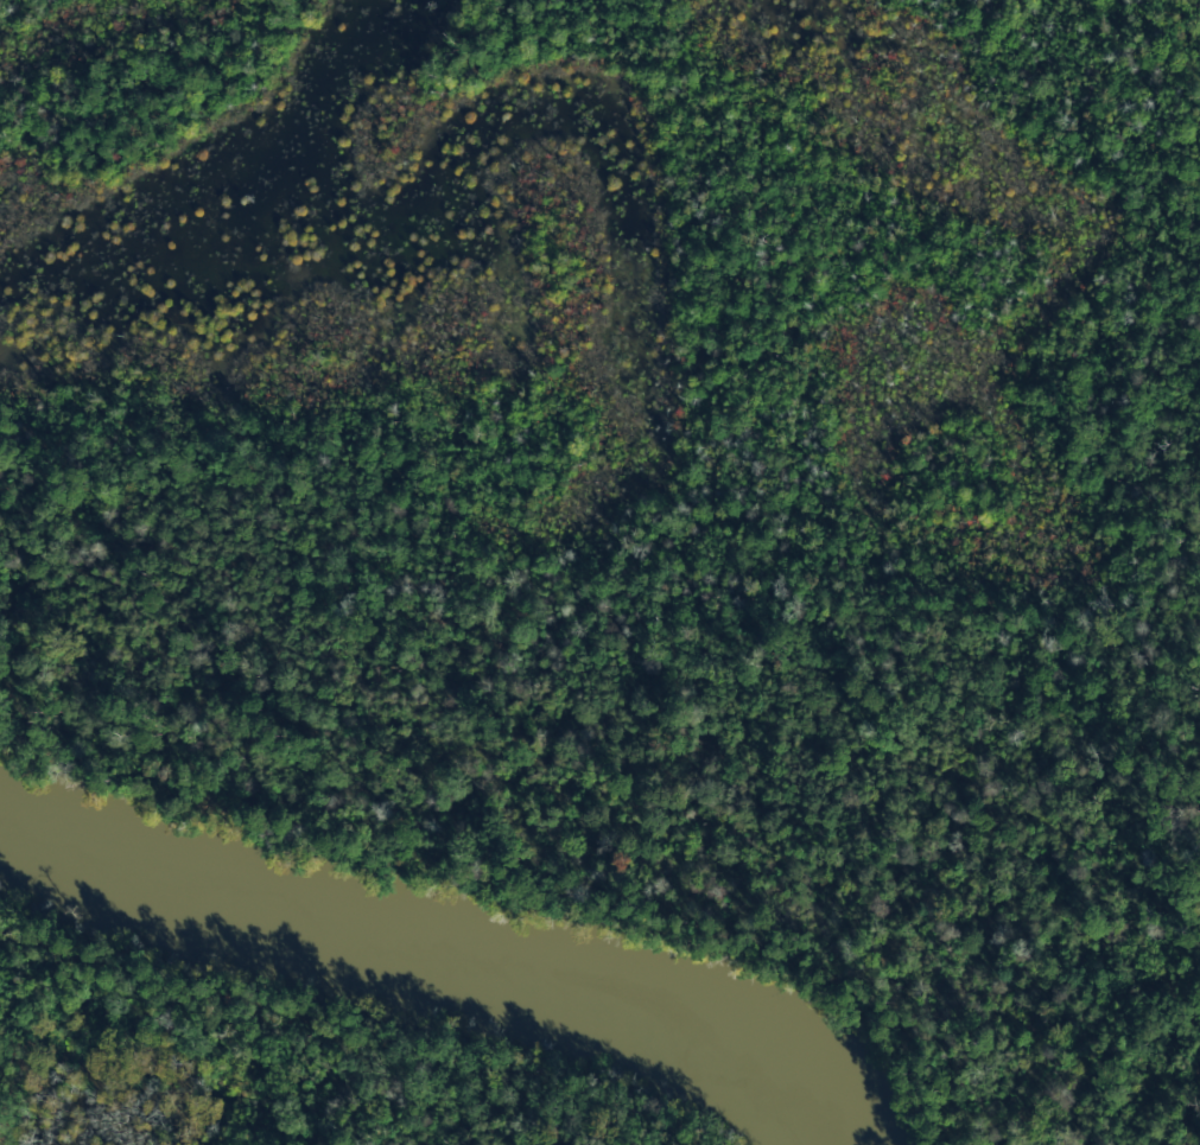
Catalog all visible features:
river: (426, 954)

